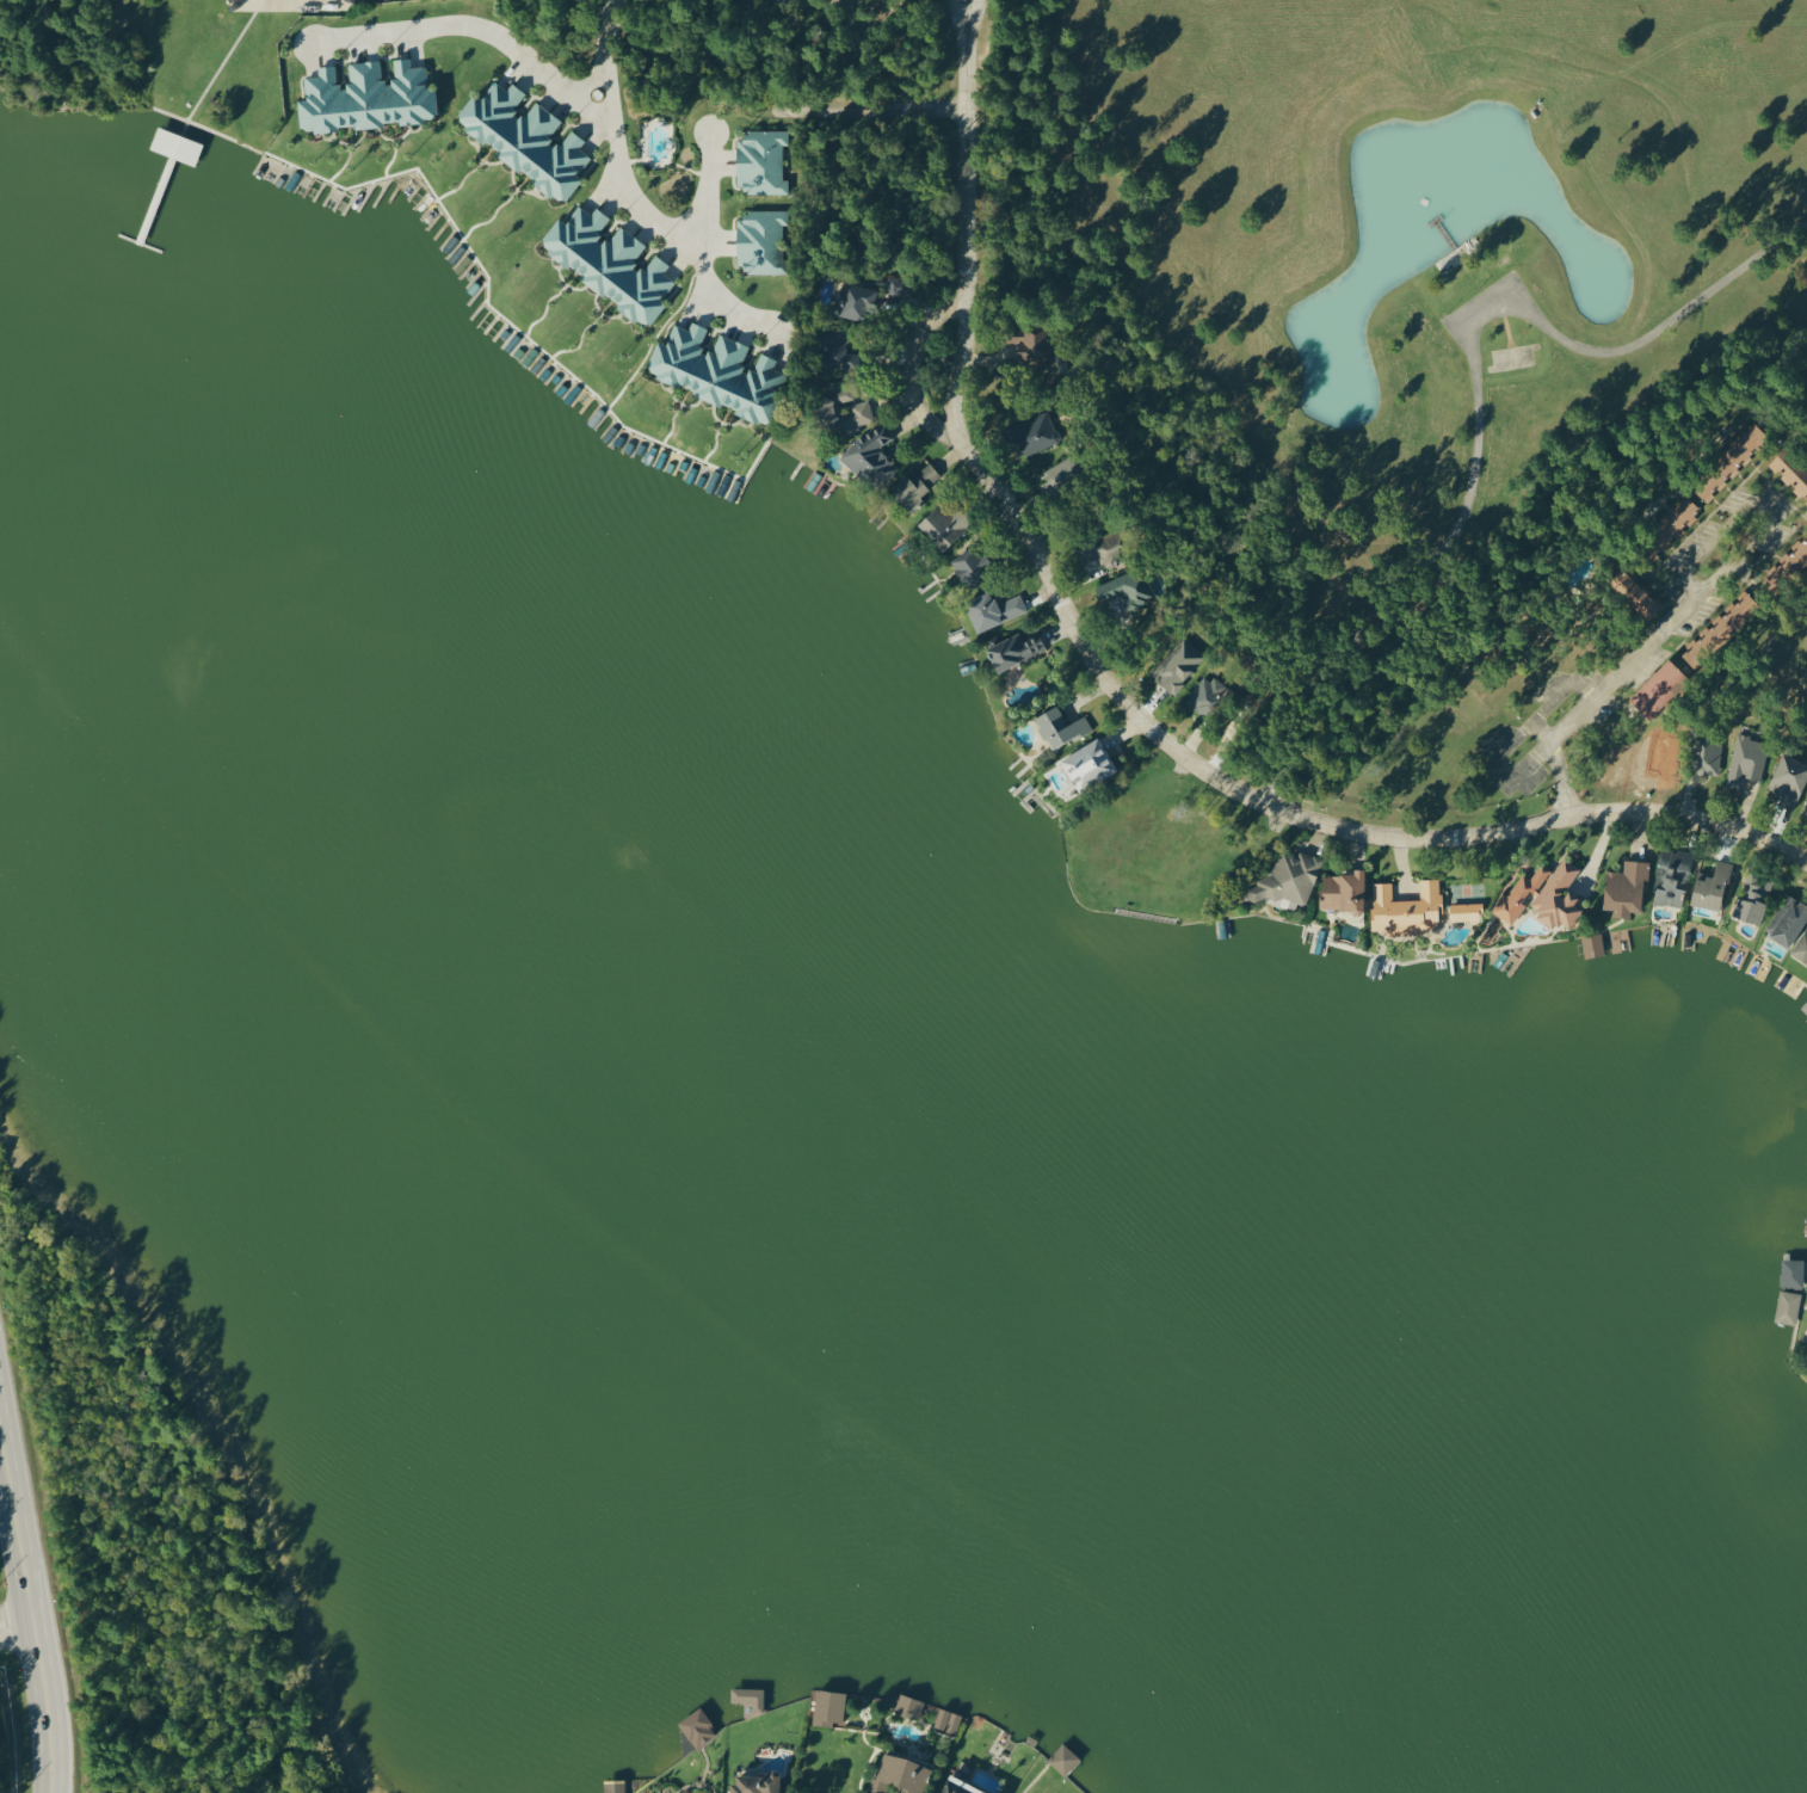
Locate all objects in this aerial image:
road: (604, 33)
road: (537, 72)
road: (582, 82)
building: (365, 97)
road: (605, 104)
road: (886, 110)
building: (525, 138)
building: (175, 144)
building: (760, 161)
building: (760, 241)
building: (610, 263)
road: (698, 265)
building: (855, 300)
building: (1029, 341)
building: (837, 347)
road: (907, 366)
building: (716, 371)
building: (841, 411)
building: (1035, 433)
building: (871, 457)
building: (1729, 462)
building: (1790, 472)
building: (914, 487)
building: (1675, 520)
building: (945, 524)
building: (1106, 544)
building: (970, 565)
building: (1125, 587)
building: (989, 609)
building: (1721, 630)
building: (1010, 652)
road: (1630, 658)
park: (1763, 666)
building: (1658, 688)
road: (1120, 694)
building: (1202, 696)
building: (1060, 727)
building: (1707, 754)
building: (1746, 762)
building: (1789, 781)
building: (1805, 808)
building: (1672, 877)
building: (1288, 881)
building: (1710, 887)
building: (1626, 888)
building: (1344, 892)
building: (1544, 895)
building: (1752, 900)
building: (1406, 910)
building: (1788, 922)
building: (1592, 945)
building: (1801, 949)
building: (1791, 1273)
building: (1787, 1307)
road: (13, 1626)
road: (27, 1628)
building: (748, 1696)
building: (828, 1706)
building: (908, 1706)
building: (946, 1720)
building: (697, 1726)
building: (1062, 1758)
building: (899, 1773)
building: (754, 1782)
building: (613, 1787)
building: (960, 1787)

